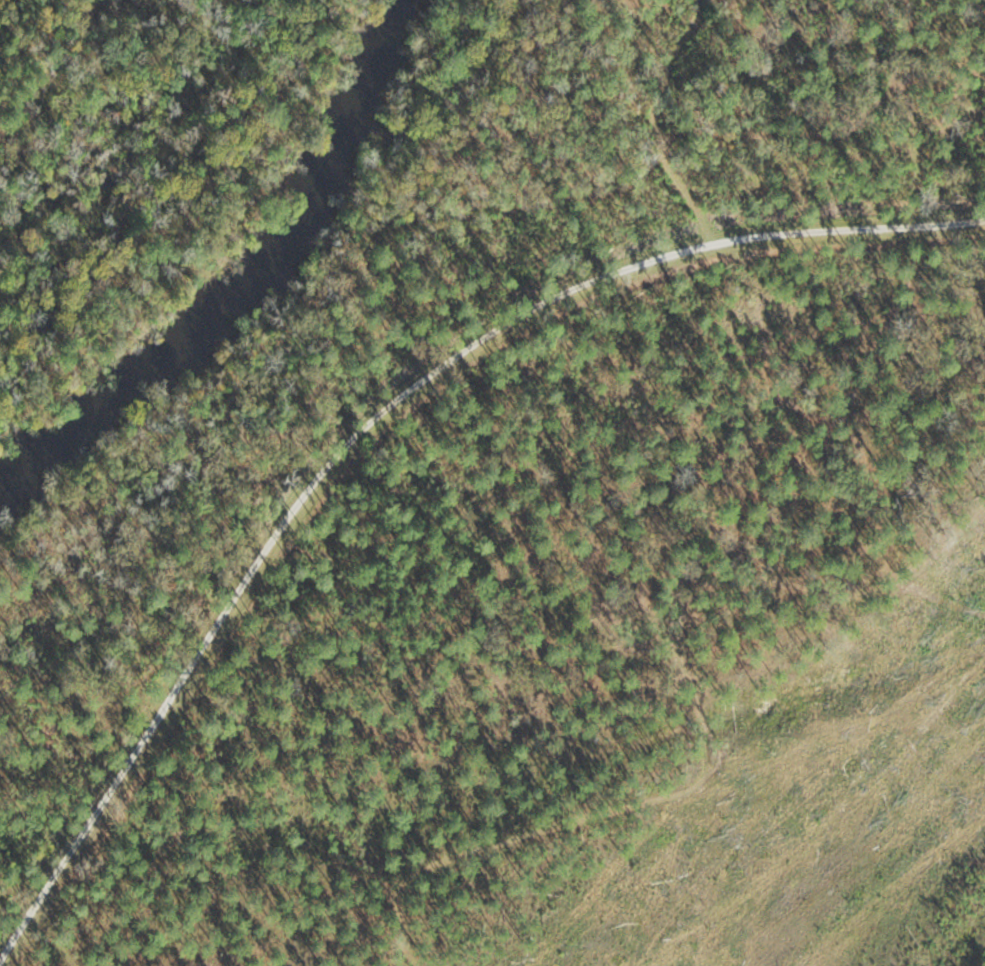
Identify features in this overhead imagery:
river: (254, 282)
airport: (551, 531)

